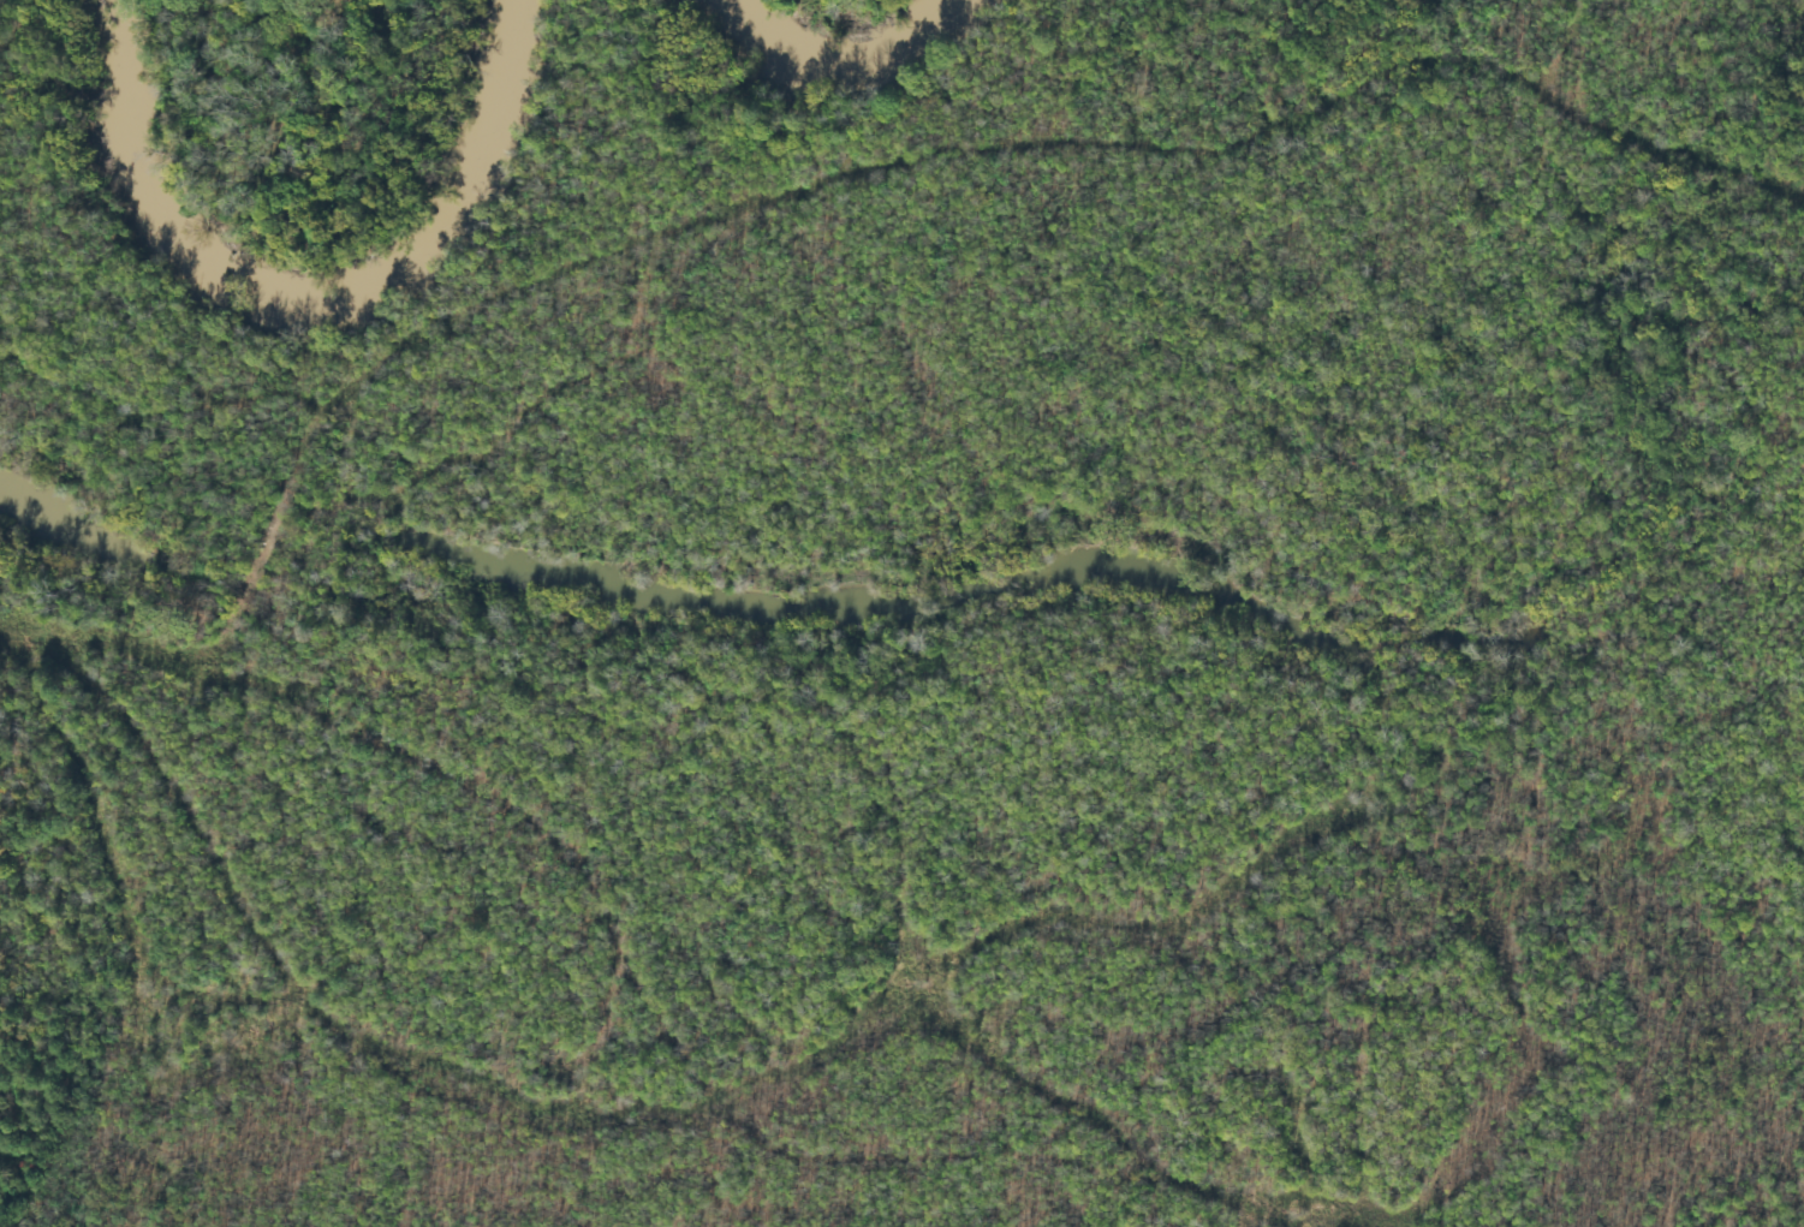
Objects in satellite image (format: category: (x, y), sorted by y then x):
river: (843, 60)
river: (305, 290)

